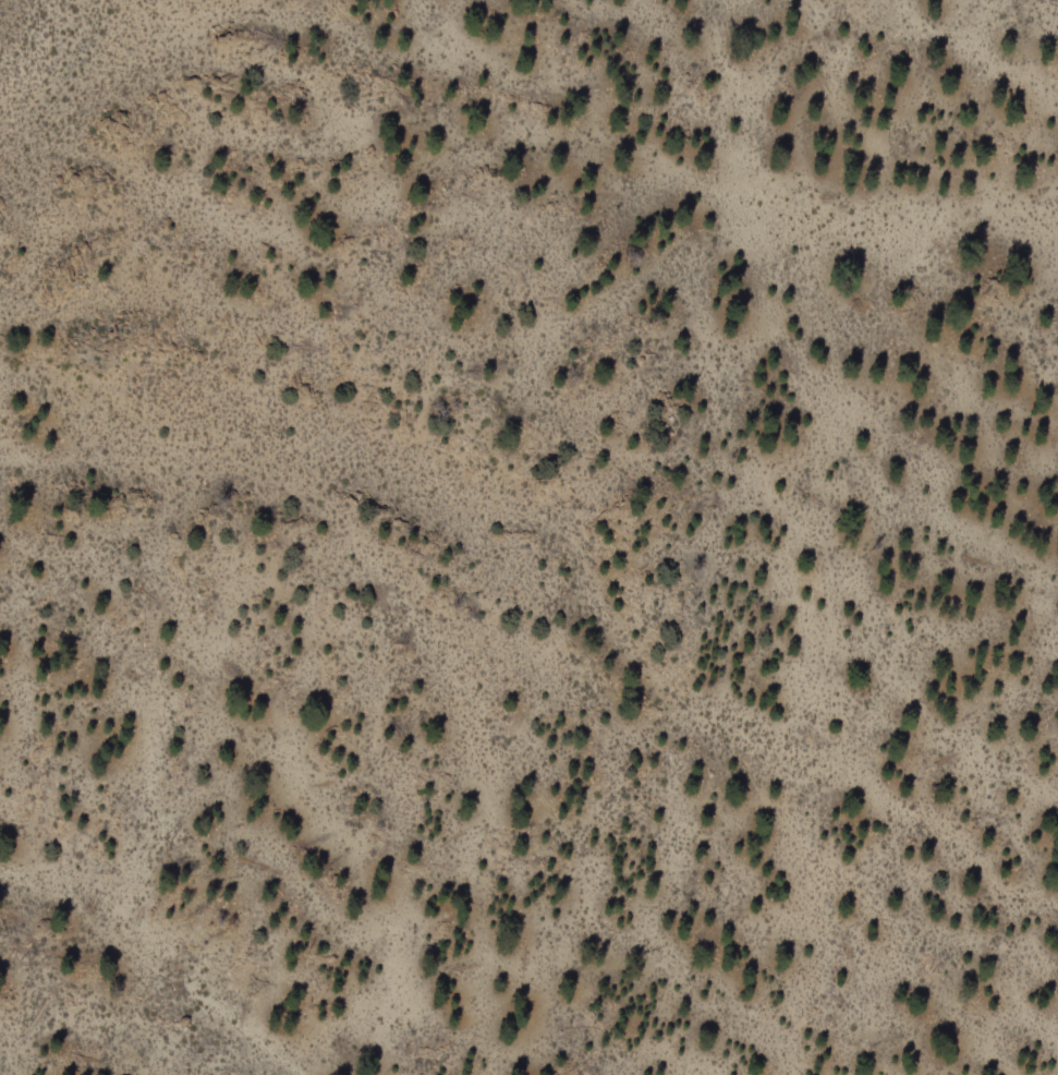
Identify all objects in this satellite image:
road: (159, 962)

